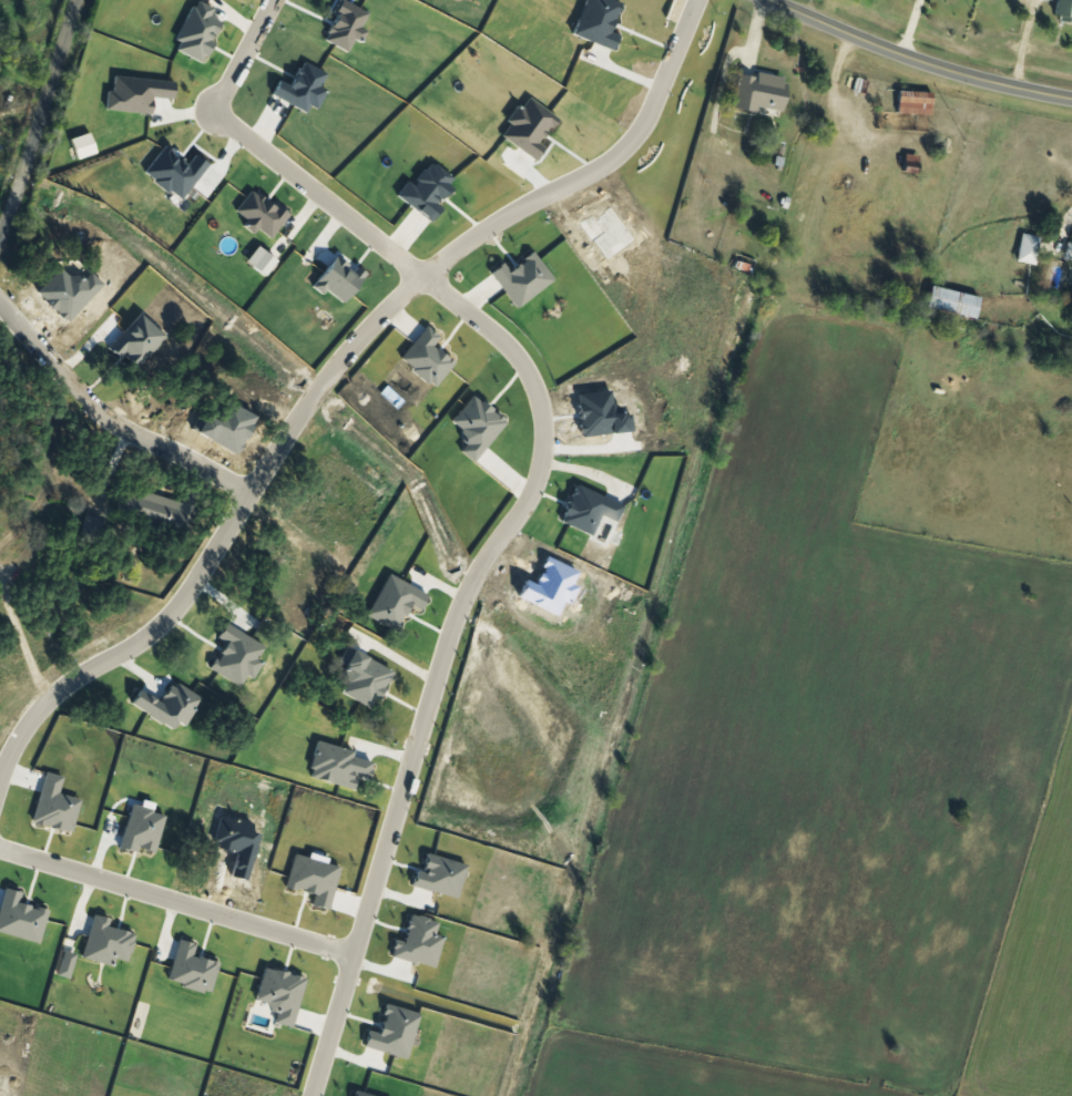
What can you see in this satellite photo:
building: (1065, 10)
road: (237, 53)
road: (920, 59)
building: (763, 92)
road: (433, 116)
road: (43, 125)
road: (1063, 229)
building: (1031, 249)
building: (1070, 253)
building: (957, 303)
road: (326, 376)
road: (105, 416)
building: (9, 480)
building: (159, 509)
road: (496, 539)
building: (343, 625)
road: (175, 900)

